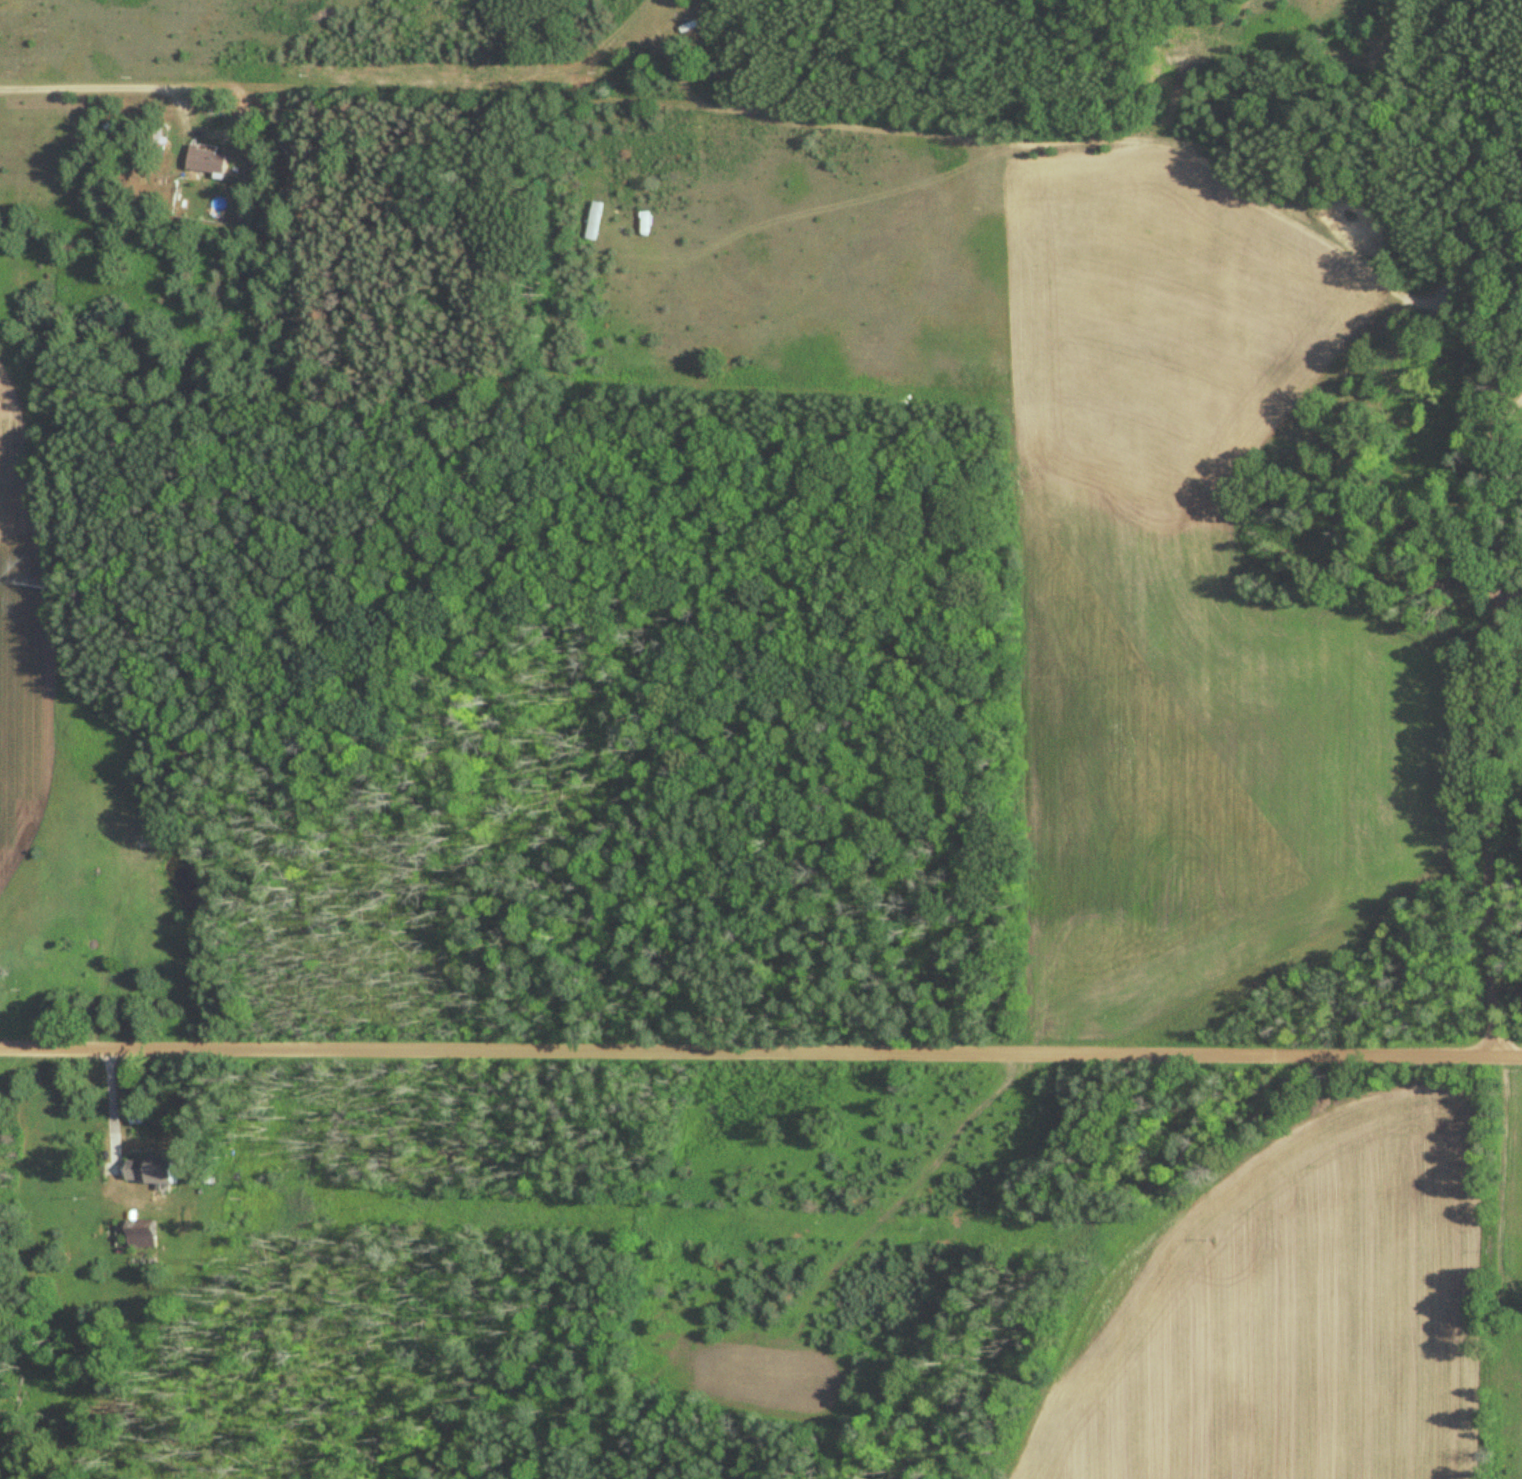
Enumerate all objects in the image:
road: (259, 57)
building: (204, 161)
road: (1508, 409)
road: (1507, 590)
road: (1488, 740)
road: (760, 1051)
road: (106, 1105)
building: (146, 1170)

